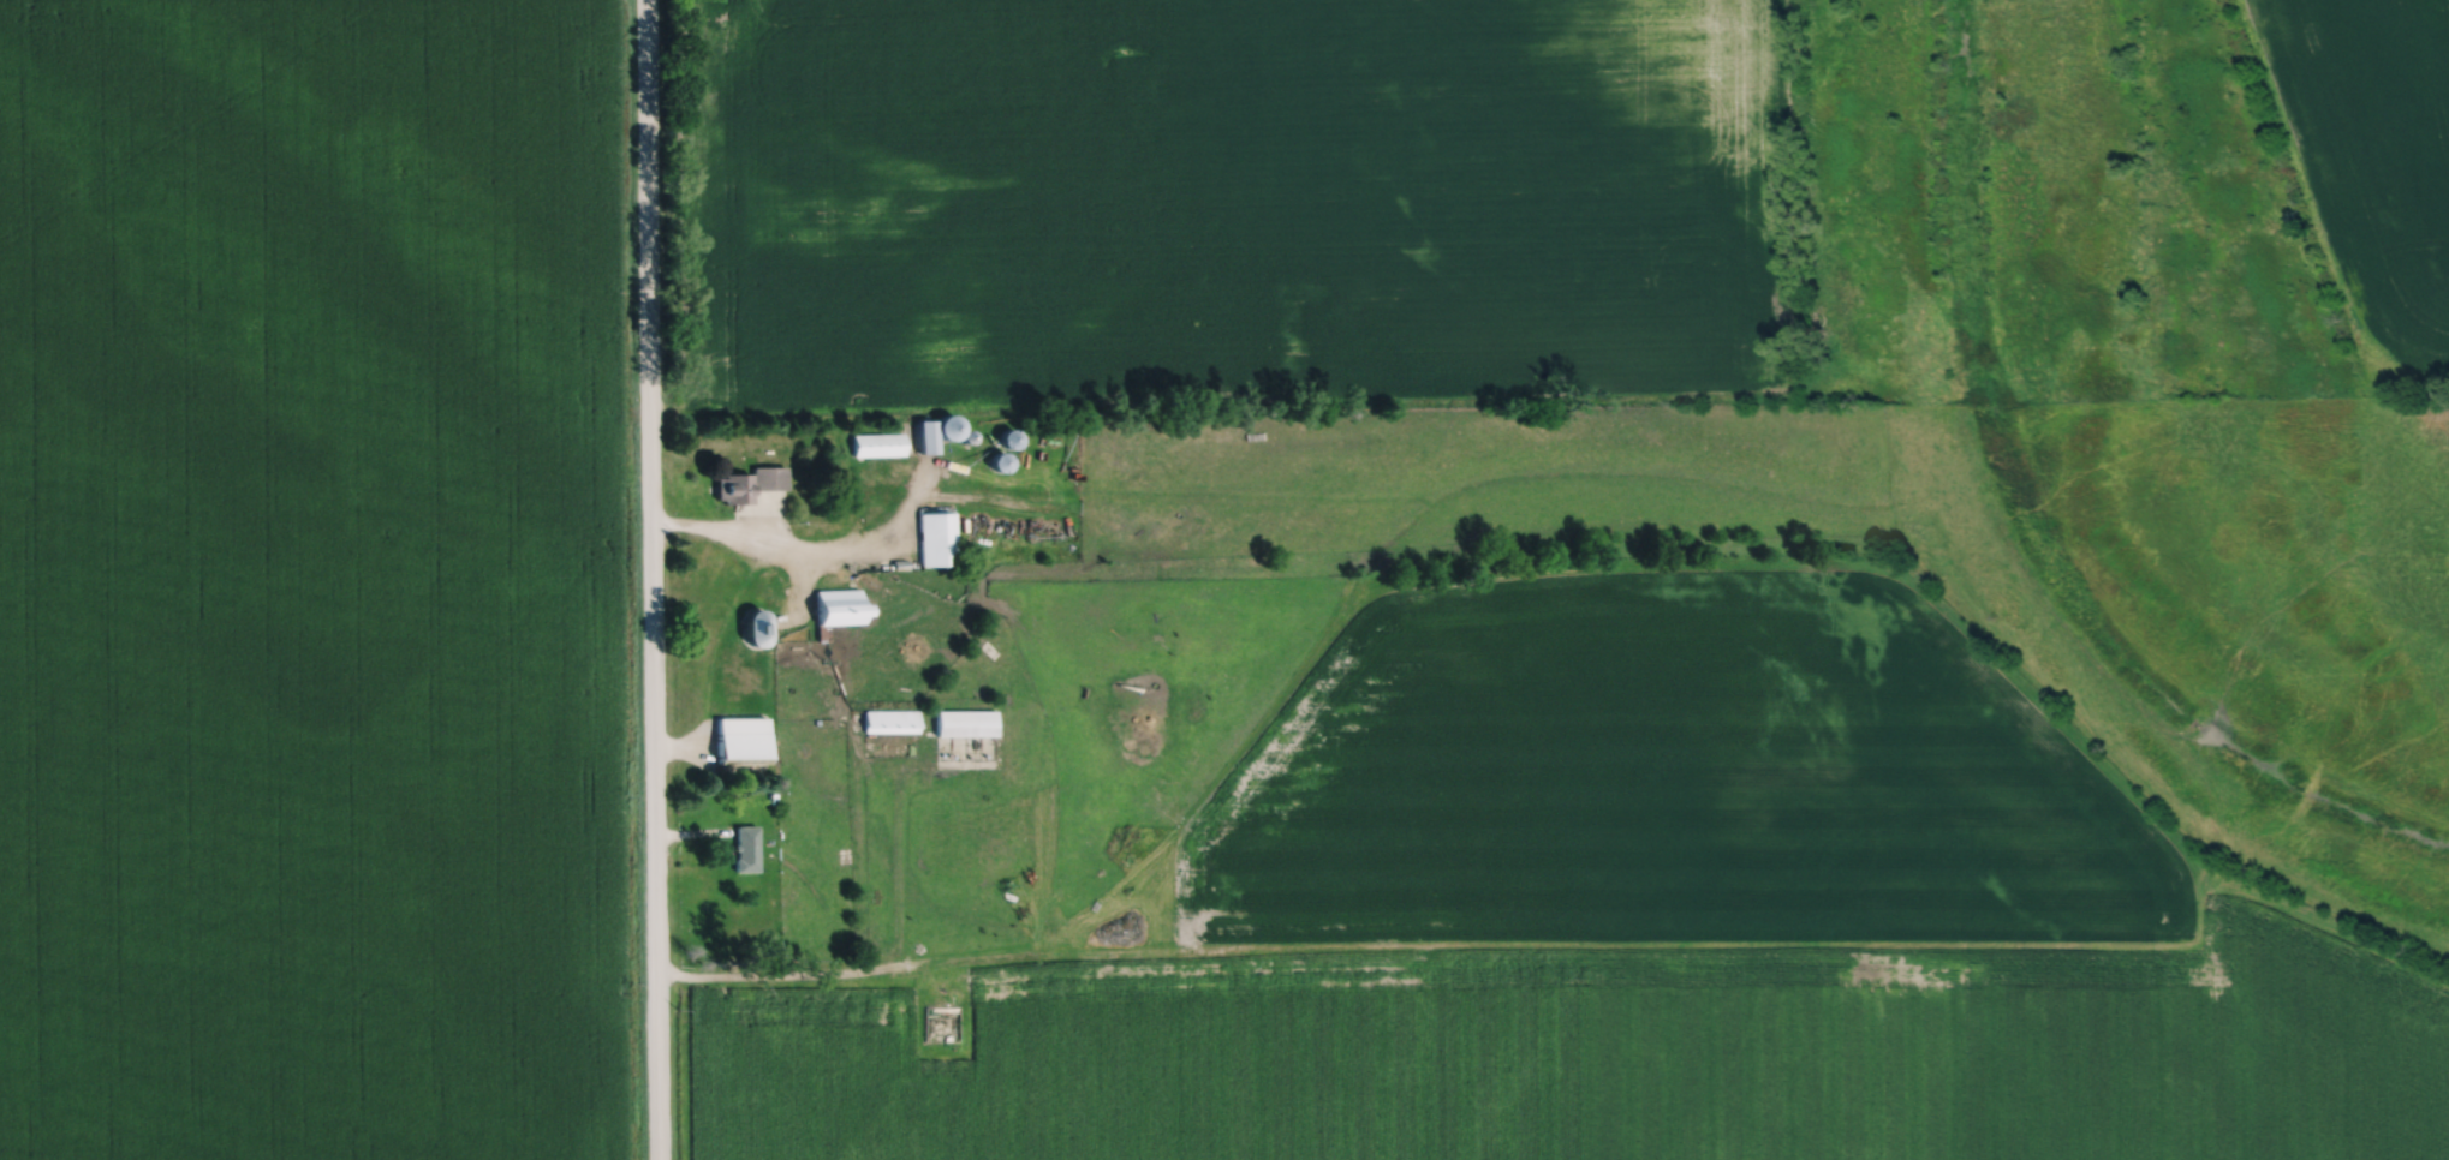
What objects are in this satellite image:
crop: (2376, 154)
crop: (1234, 203)
building: (1069, 418)
building: (951, 424)
building: (969, 432)
building: (928, 433)
building: (1011, 437)
building: (878, 443)
building: (1000, 461)
building: (769, 477)
building: (734, 486)
building: (937, 536)
road: (810, 552)
road: (650, 580)
crop: (312, 581)
road: (800, 591)
building: (839, 605)
building: (756, 626)
building: (823, 632)
building: (890, 720)
building: (966, 722)
building: (741, 739)
building: (773, 797)
building: (746, 848)
crop: (1637, 928)

